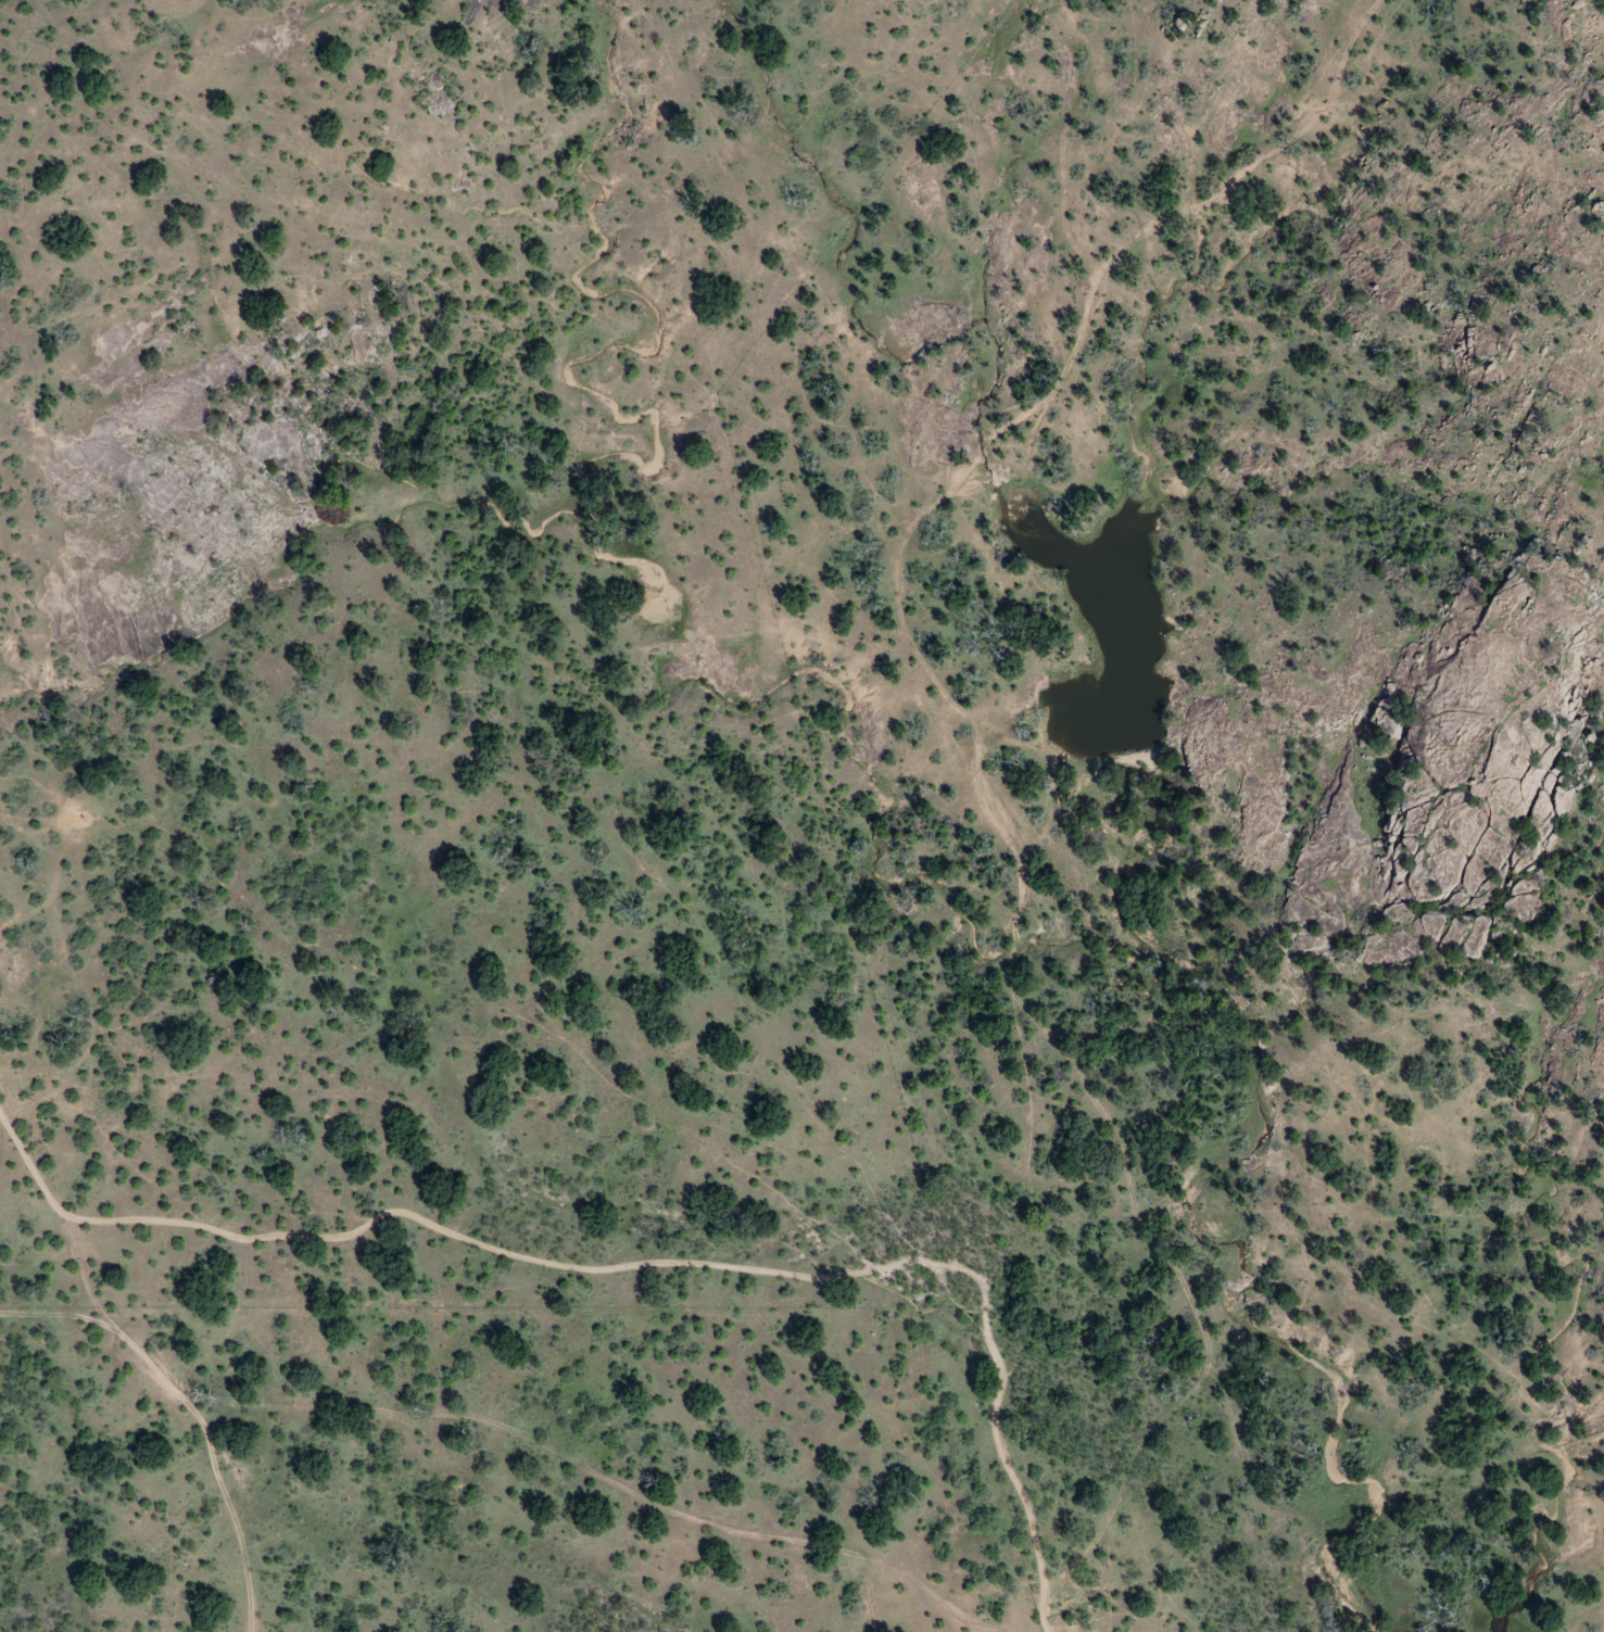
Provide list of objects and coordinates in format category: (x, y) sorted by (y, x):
road: (637, 1255)

